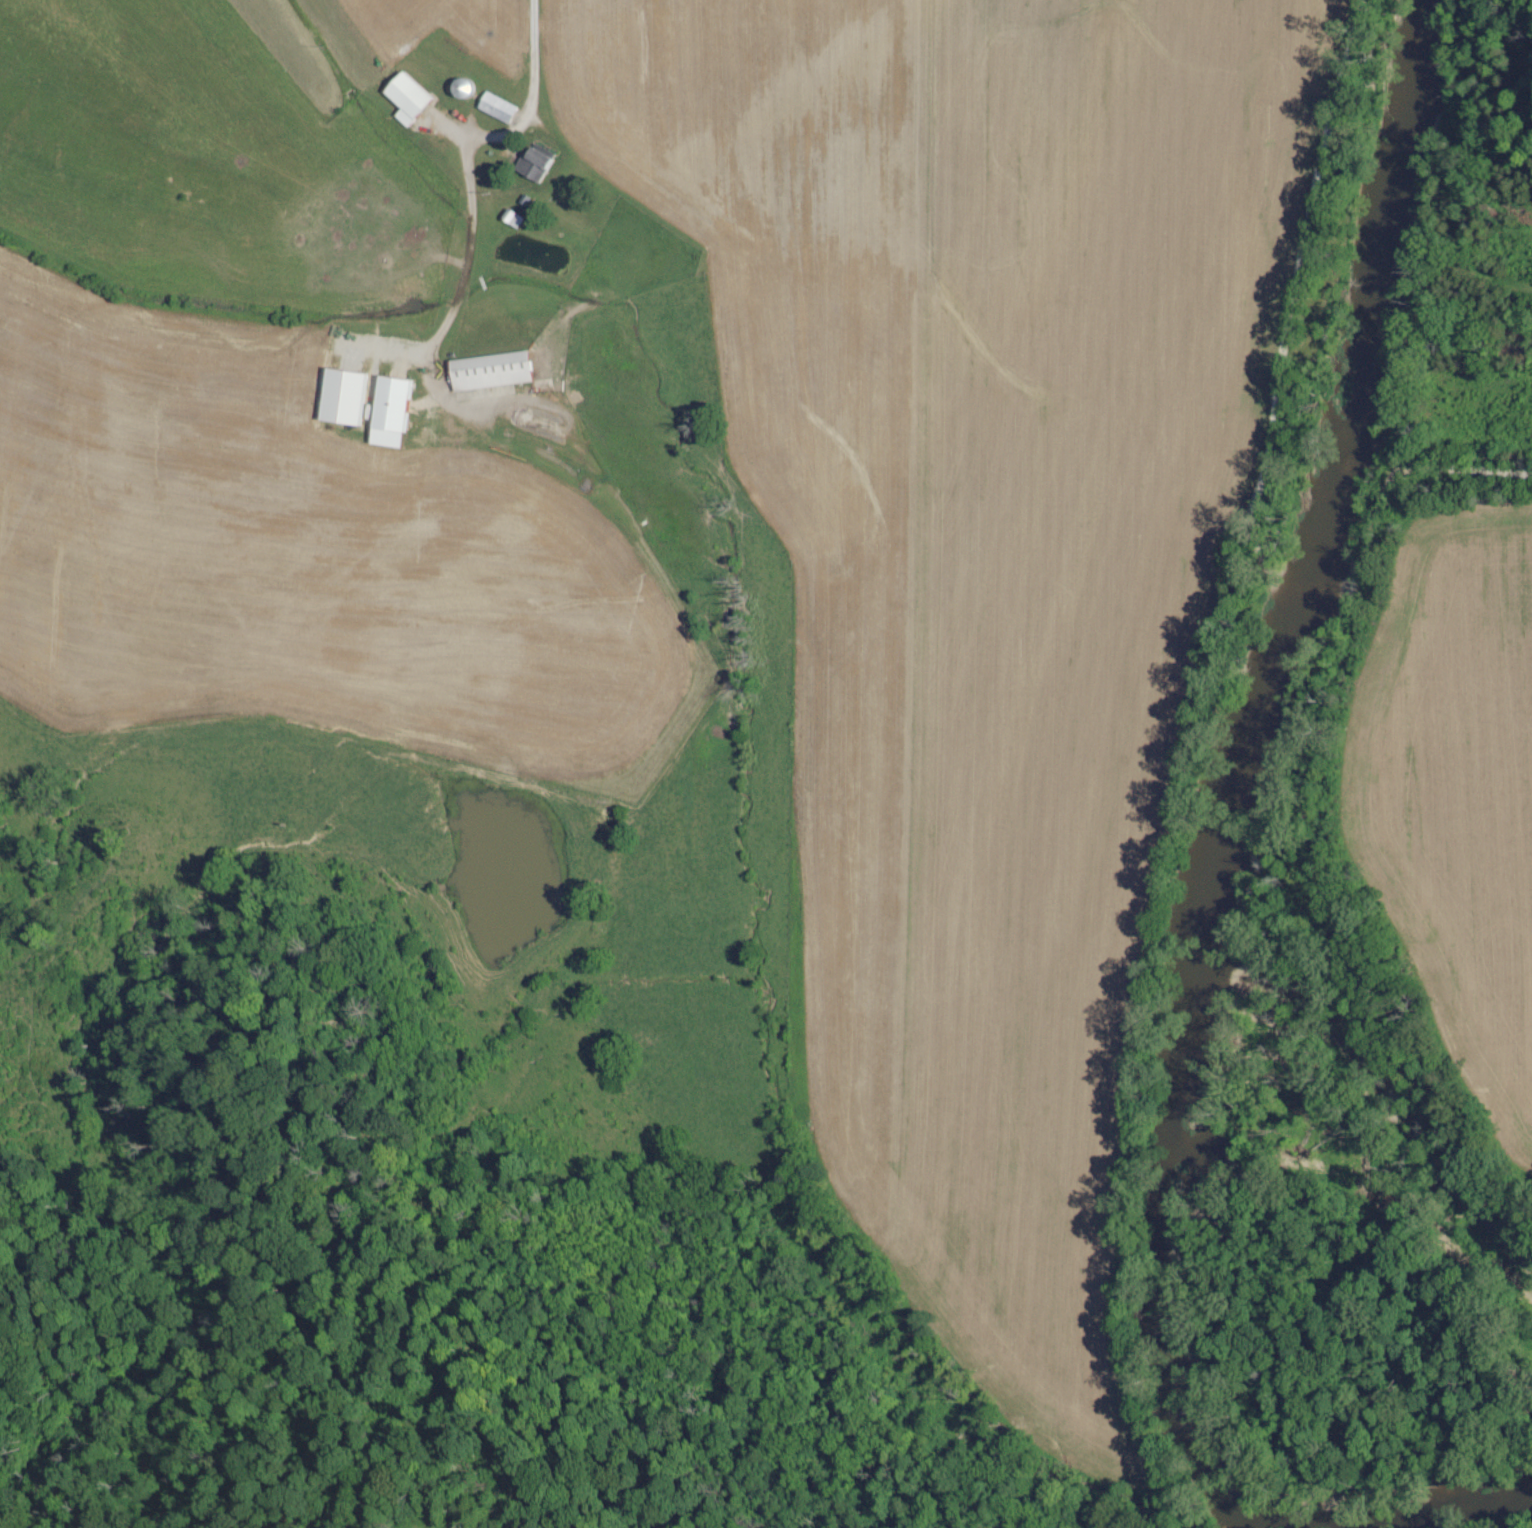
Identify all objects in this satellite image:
road: (530, 64)
building: (407, 98)
building: (497, 107)
building: (533, 164)
building: (490, 371)
building: (343, 398)
building: (389, 412)
road: (1268, 451)

